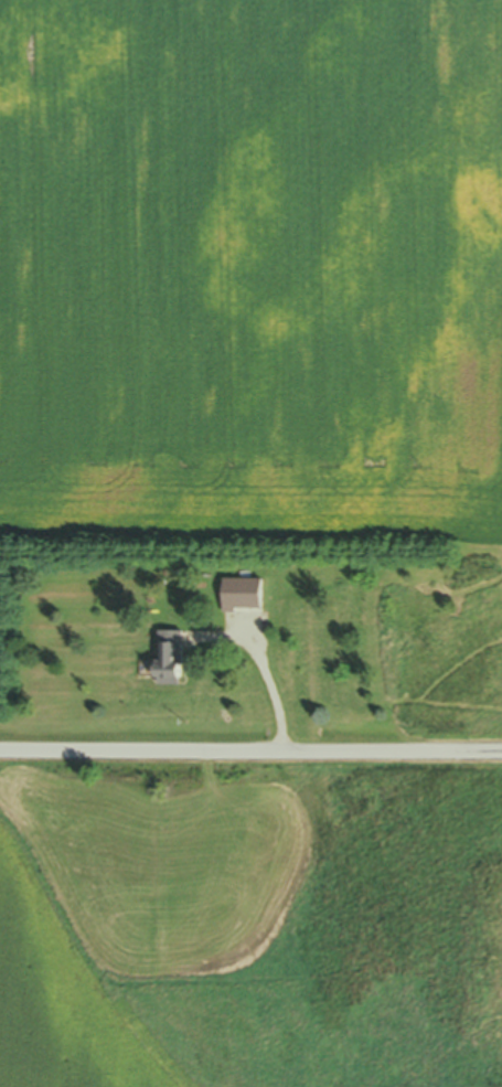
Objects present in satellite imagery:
building: (177, 661)
road: (266, 672)
road: (250, 752)

